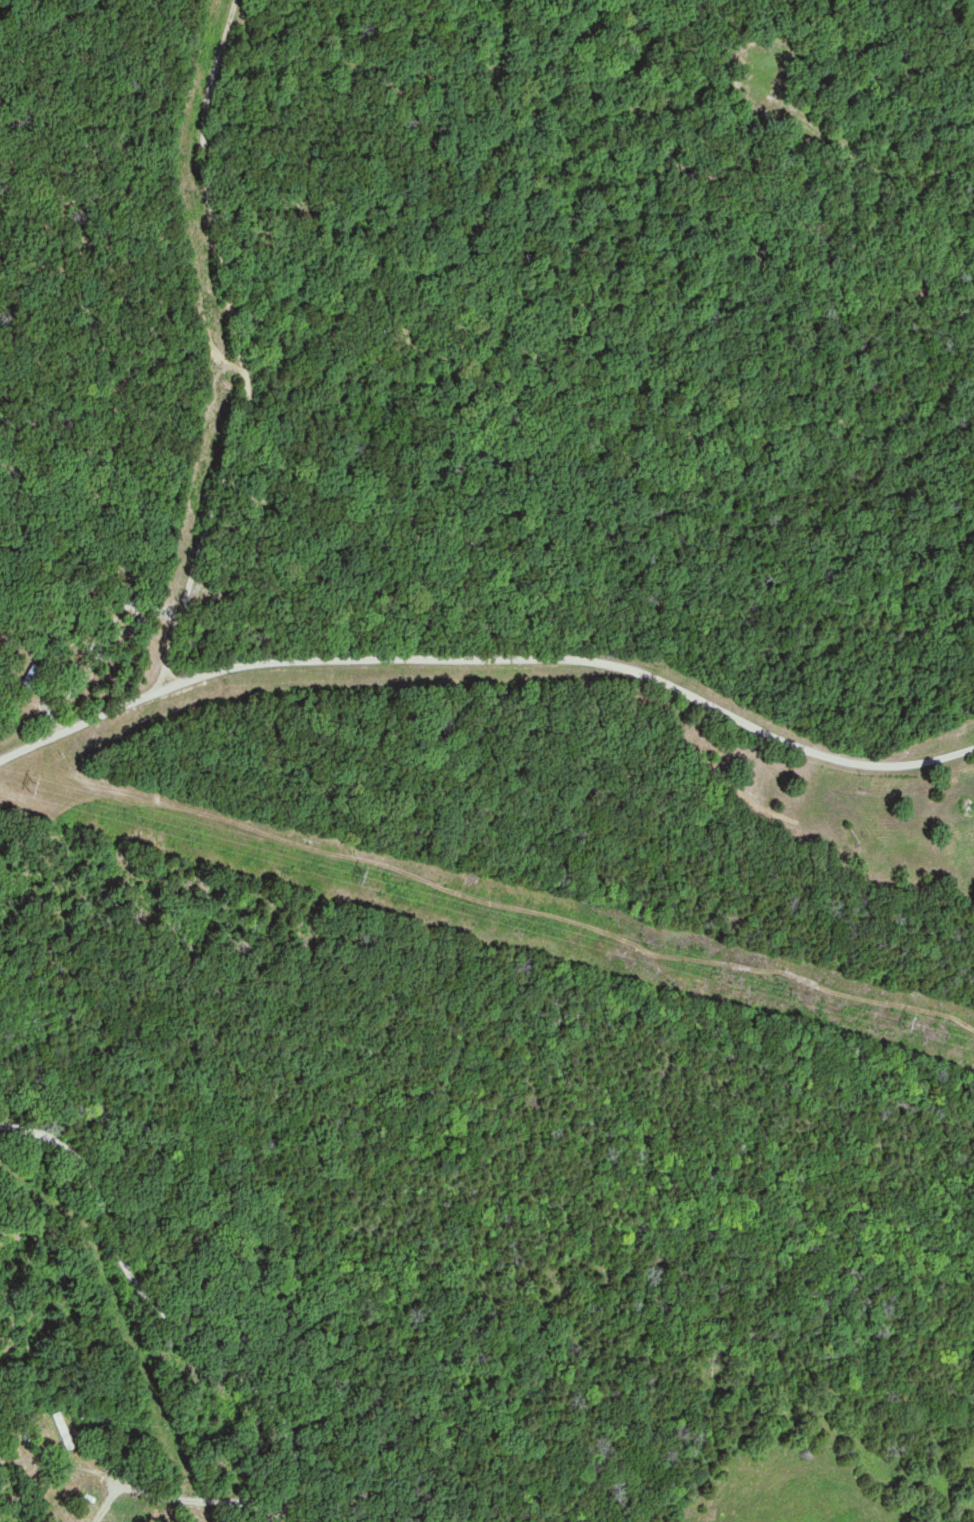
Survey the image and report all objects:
road: (244, 348)
road: (487, 660)
building: (27, 685)
road: (161, 1317)

